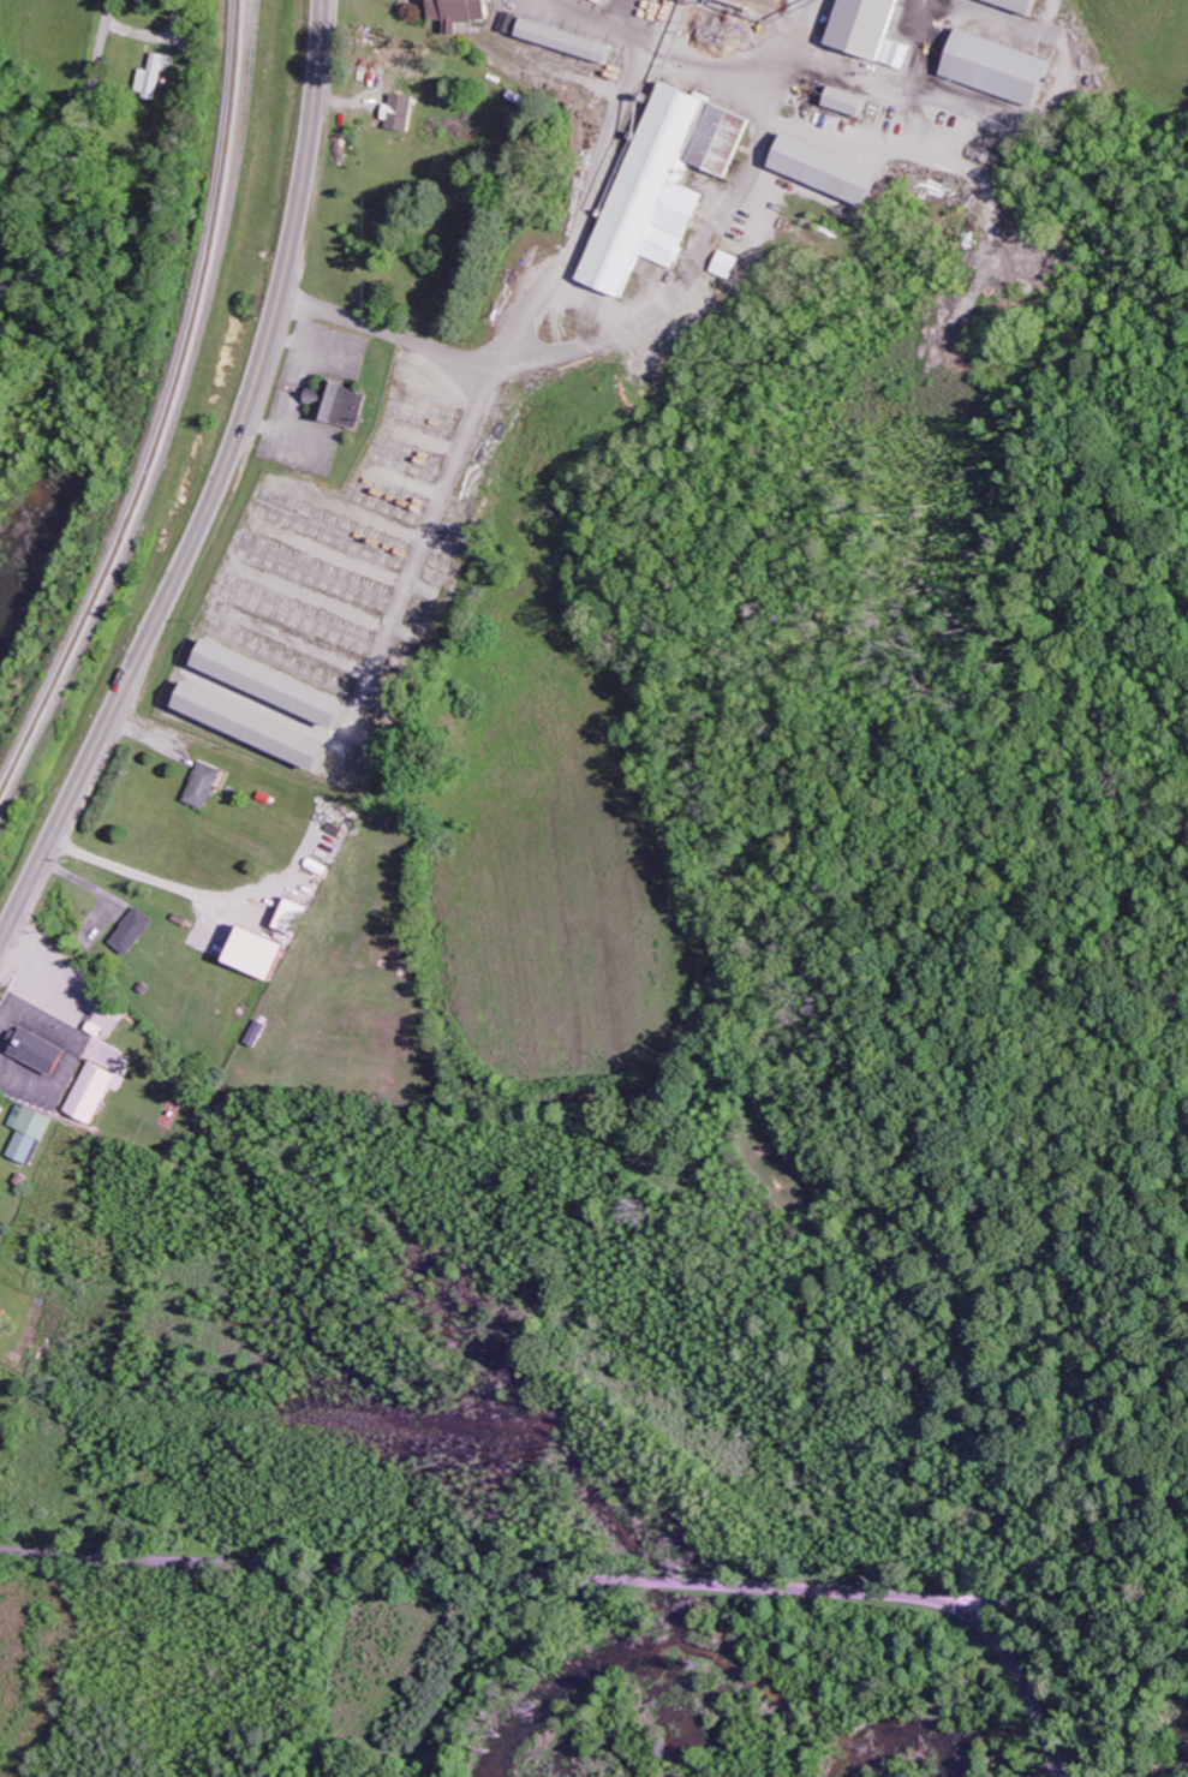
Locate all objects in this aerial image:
building: (1023, 5)
building: (465, 12)
building: (873, 30)
building: (1002, 68)
building: (155, 76)
building: (850, 102)
building: (402, 113)
road: (76, 156)
building: (832, 172)
building: (668, 184)
building: (728, 266)
building: (341, 402)
railway: (168, 413)
road: (215, 489)
building: (277, 684)
building: (258, 726)
building: (204, 786)
building: (293, 916)
building: (133, 931)
building: (258, 952)
building: (257, 1032)
building: (38, 1051)
building: (92, 1092)
building: (1, 1110)
building: (30, 1131)
road: (598, 1580)

